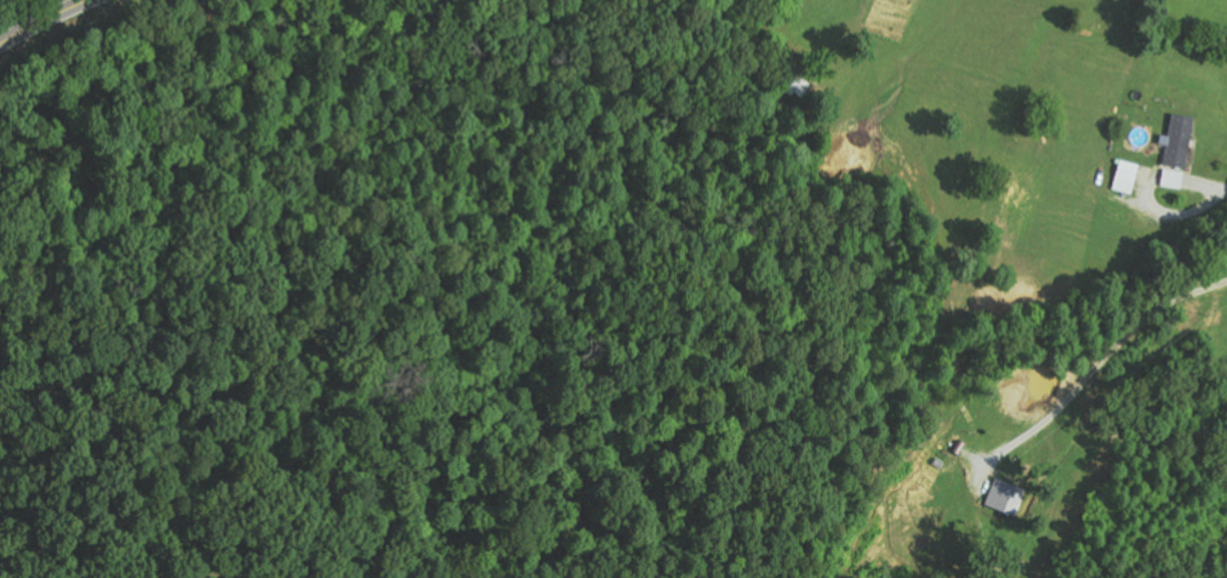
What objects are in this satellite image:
road: (48, 22)
building: (1180, 141)
building: (1128, 176)
building: (1174, 178)
building: (1006, 497)

